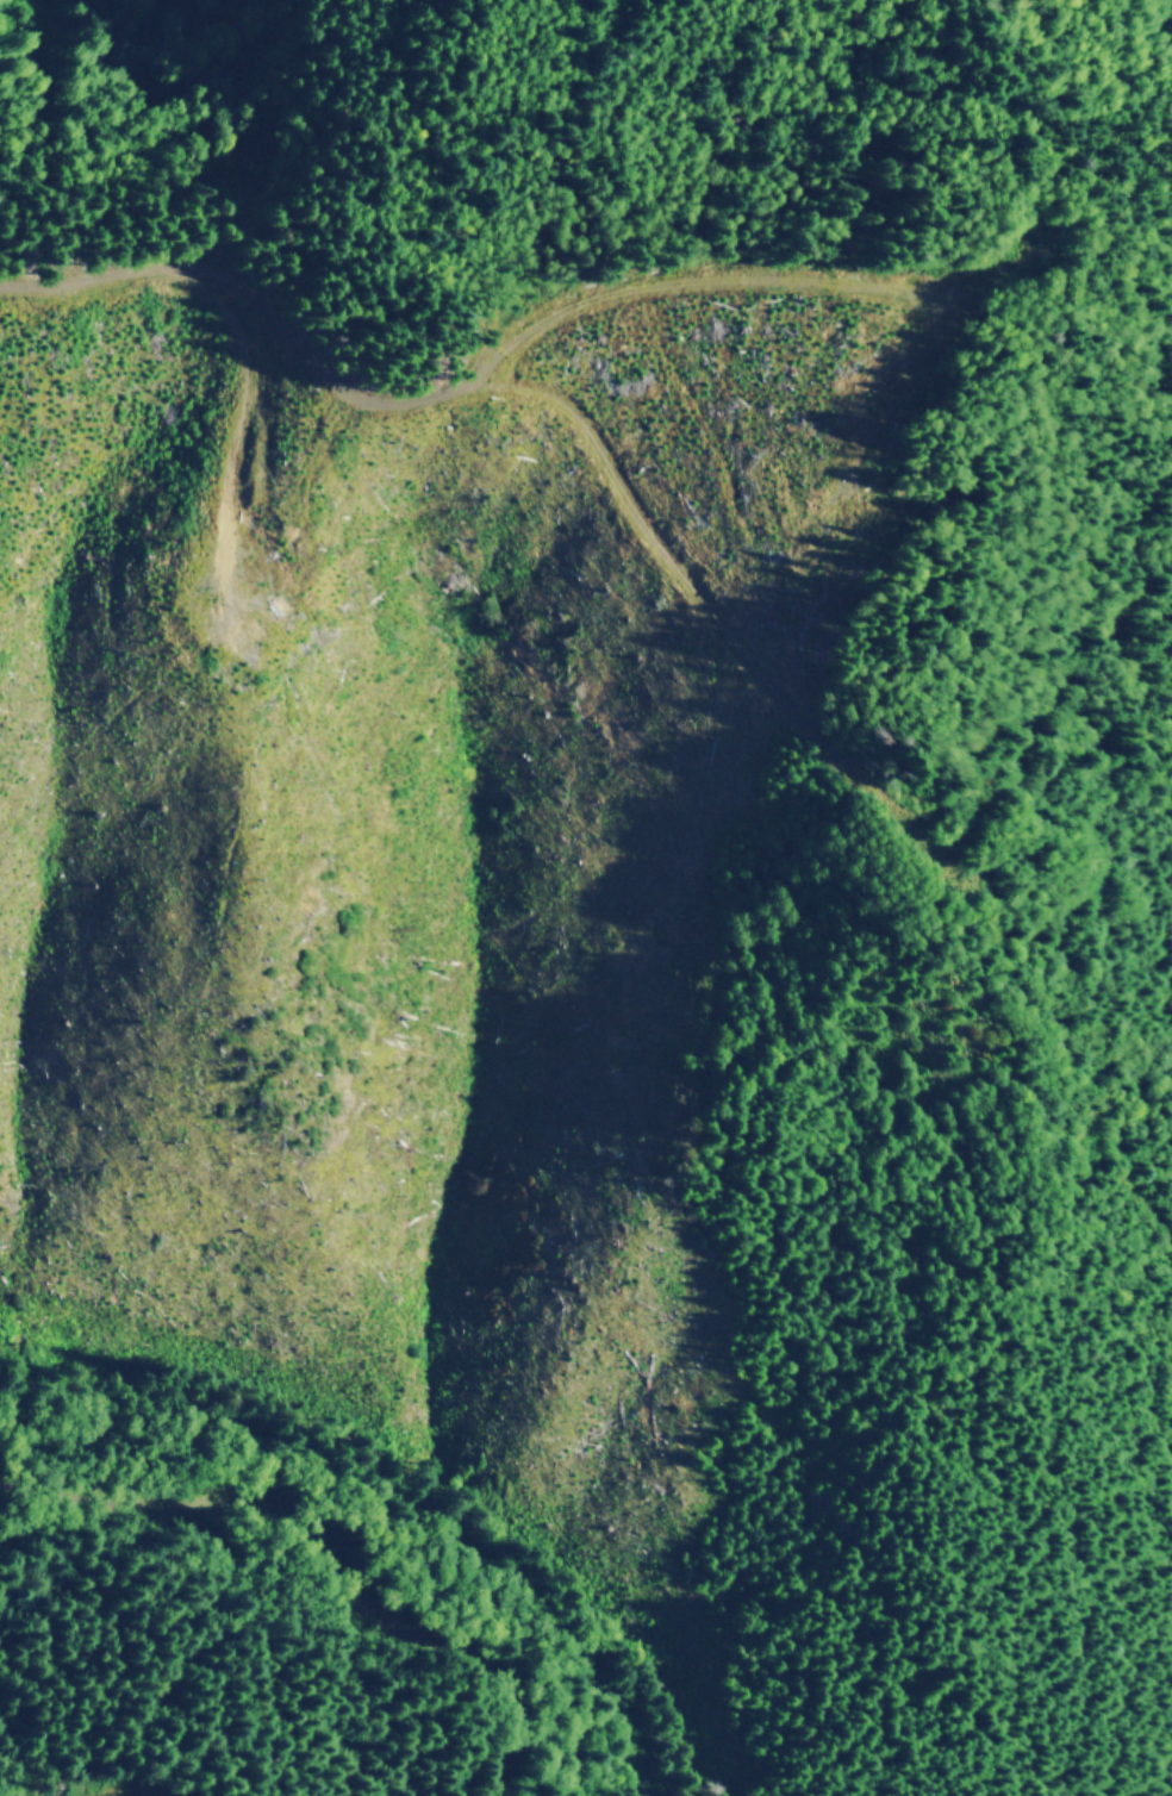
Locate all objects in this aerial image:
road: (681, 651)
road: (286, 1640)

